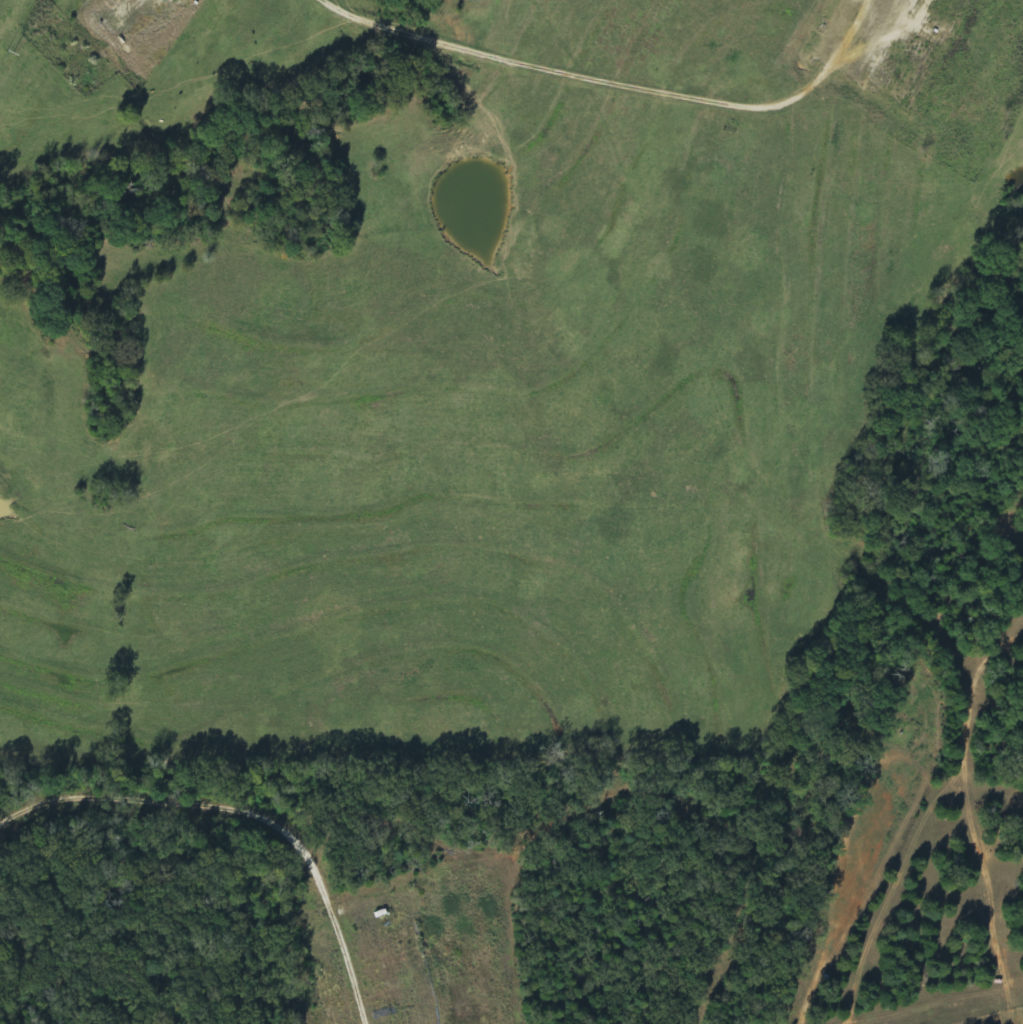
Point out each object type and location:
power tower: (7, 52)
road: (247, 812)

